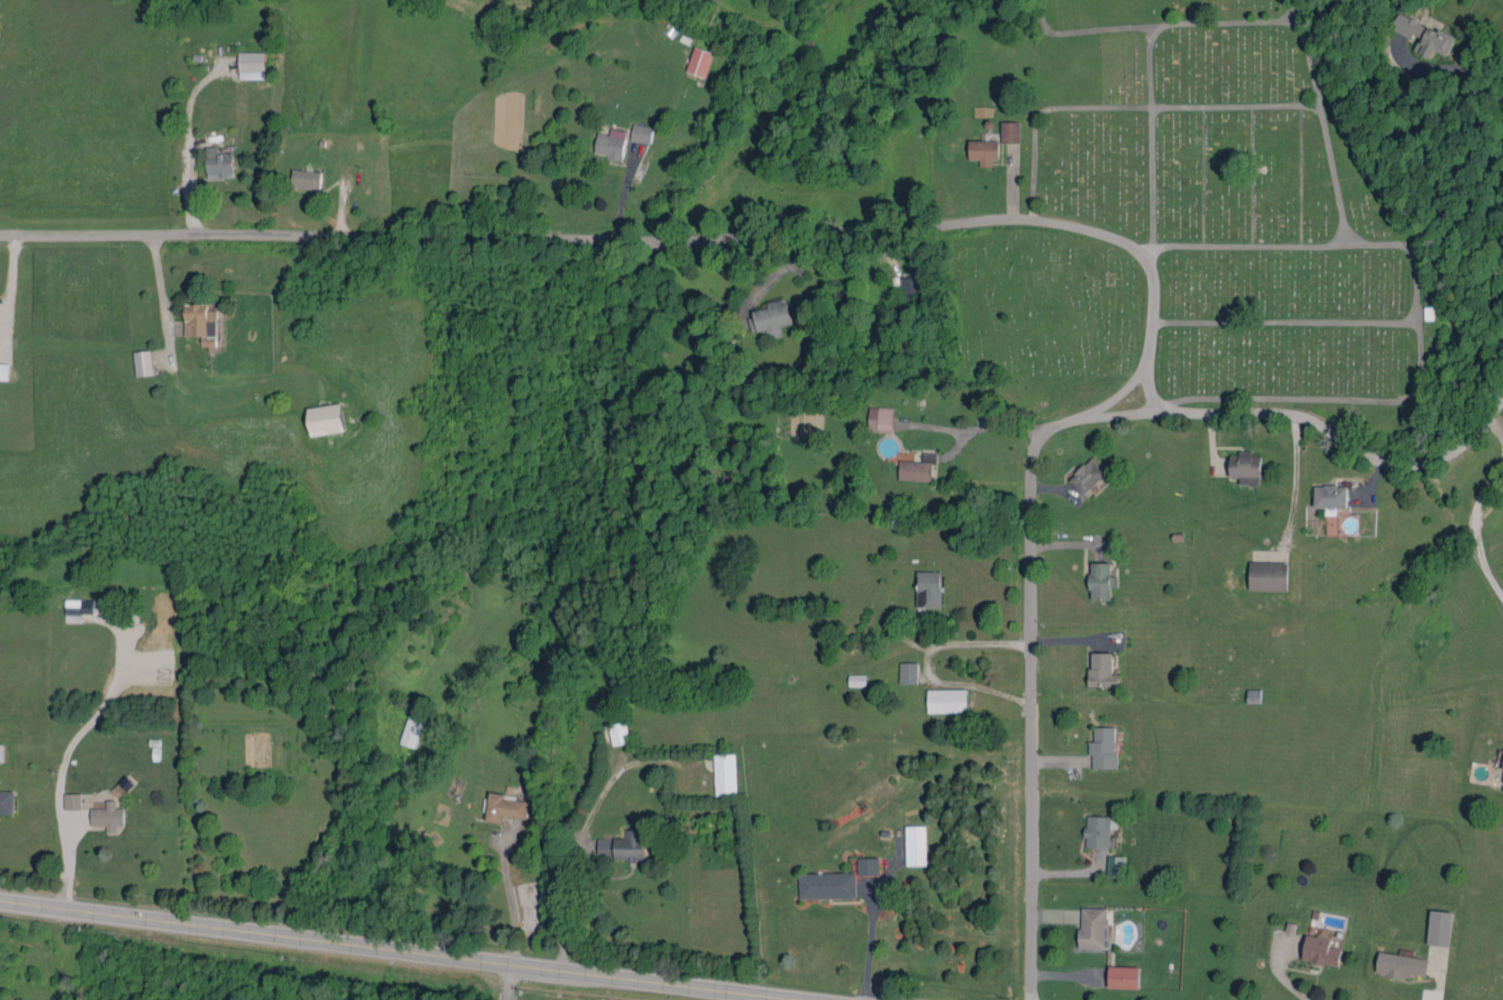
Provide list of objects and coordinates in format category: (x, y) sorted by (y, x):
building: (1424, 35)
building: (700, 61)
building: (252, 65)
road: (1475, 83)
building: (1011, 132)
building: (642, 133)
road: (187, 140)
building: (611, 143)
building: (984, 151)
building: (220, 163)
building: (306, 179)
park: (1237, 193)
road: (526, 234)
building: (911, 293)
road: (8, 294)
road: (1152, 299)
building: (771, 318)
building: (199, 321)
park: (1034, 322)
building: (142, 362)
building: (4, 370)
road: (1154, 399)
building: (326, 419)
building: (880, 419)
road: (989, 424)
road: (1032, 464)
building: (918, 468)
building: (1246, 468)
building: (1087, 476)
building: (1331, 497)
road: (1472, 511)
building: (1268, 576)
building: (1102, 581)
building: (929, 589)
building: (77, 609)
road: (927, 664)
building: (1103, 670)
building: (908, 672)
building: (857, 680)
building: (947, 700)
building: (411, 732)
building: (619, 733)
building: (1104, 748)
building: (2, 752)
road: (64, 757)
building: (725, 774)
building: (7, 801)
building: (72, 801)
building: (505, 807)
building: (107, 816)
building: (1098, 831)
building: (916, 845)
building: (622, 846)
building: (869, 866)
building: (1116, 866)
building: (827, 885)
road: (508, 892)
road: (565, 905)
building: (1094, 927)
building: (1440, 927)
road: (405, 950)
building: (1321, 951)
building: (1402, 965)
building: (1124, 976)
road: (1281, 980)
road: (508, 981)
road: (1436, 985)
road: (510, 995)

